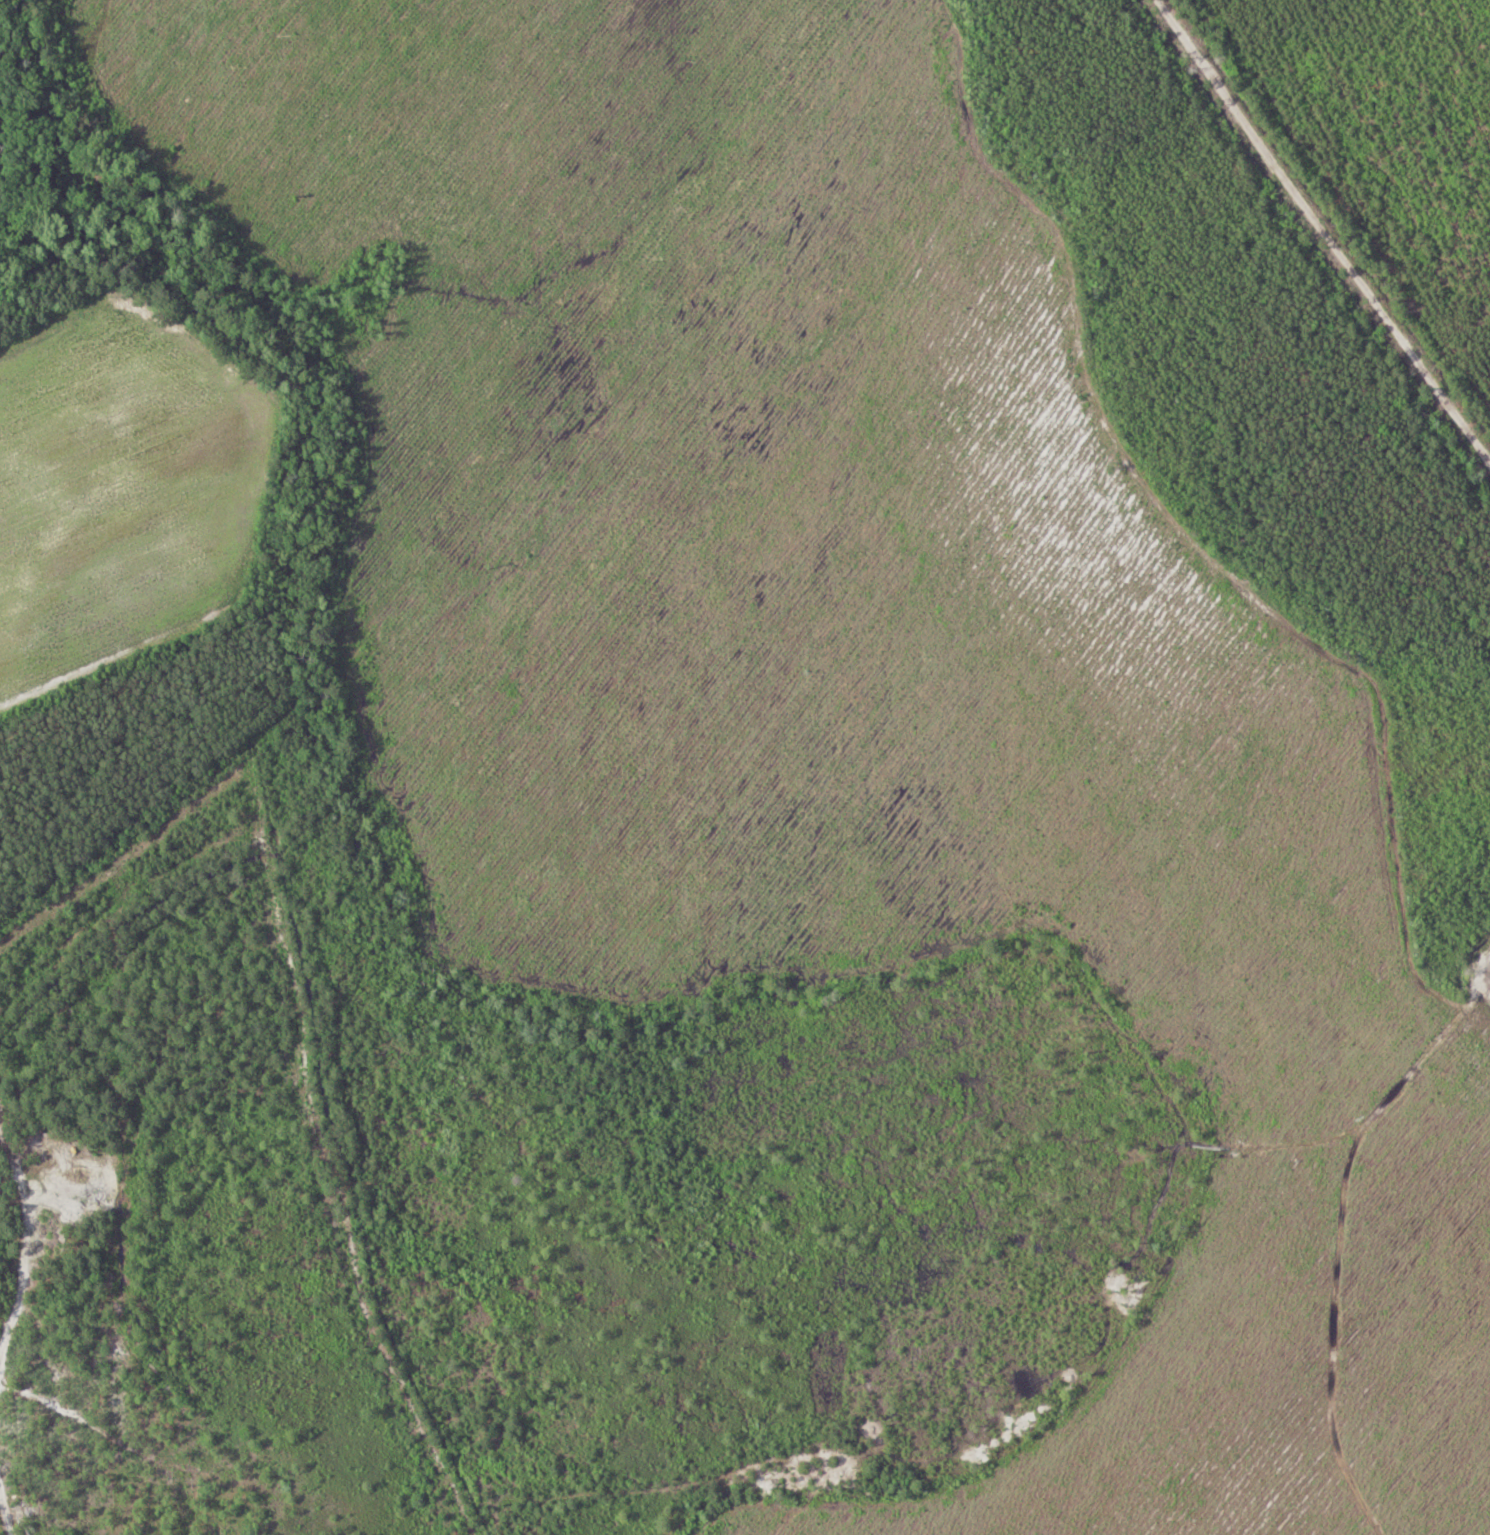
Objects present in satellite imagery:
road: (1324, 235)
road: (1486, 977)
road: (1486, 989)
road: (1360, 1122)
road: (1333, 1330)

